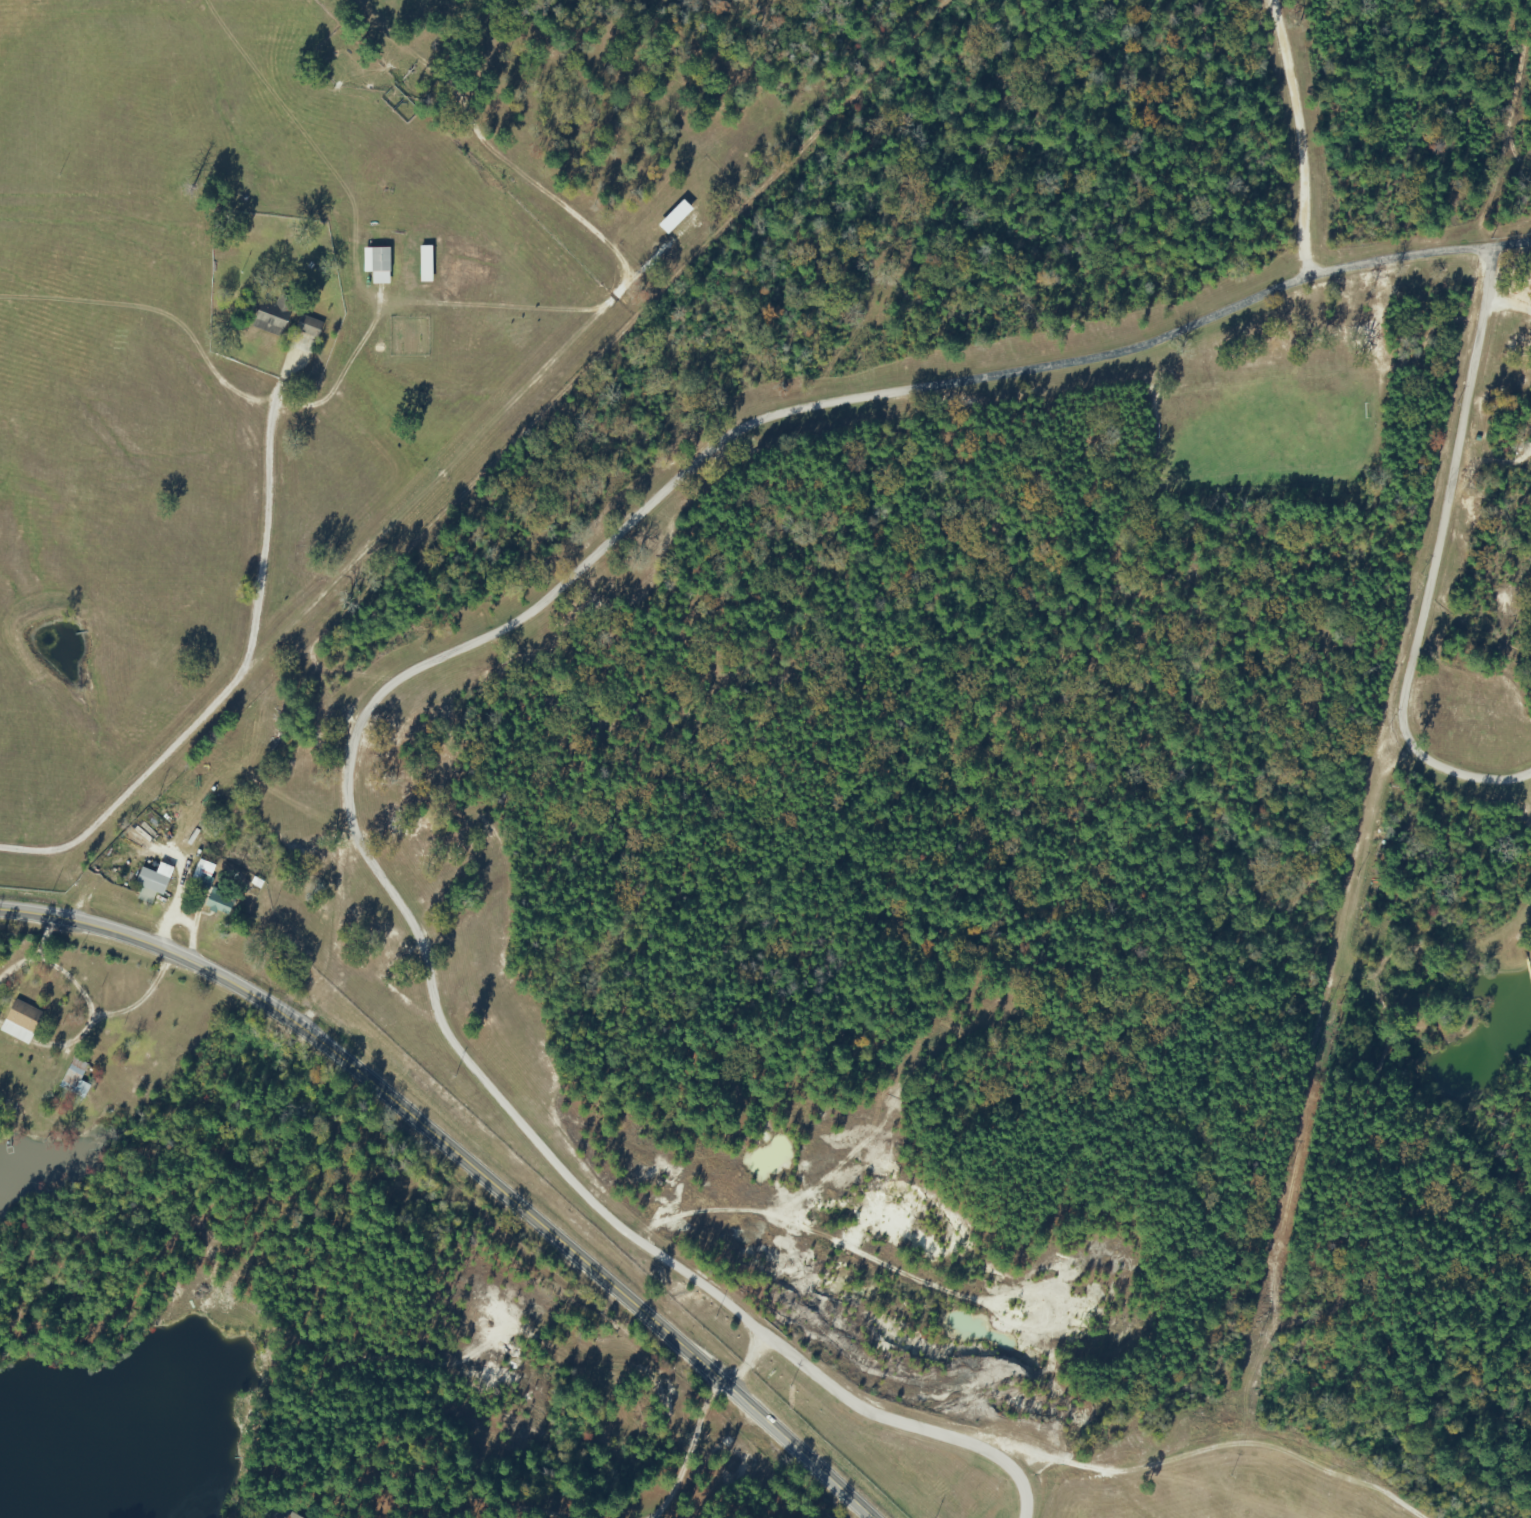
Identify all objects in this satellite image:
road: (1299, 136)
road: (1511, 243)
building: (379, 261)
road: (1506, 301)
building: (272, 316)
building: (307, 327)
road: (1430, 561)
road: (203, 643)
road: (410, 670)
building: (149, 886)
building: (218, 902)
building: (20, 1023)
building: (75, 1080)
road: (465, 1161)
road: (198, 1243)
road: (414, 1314)
road: (734, 1472)
building: (274, 1517)
building: (285, 1517)

